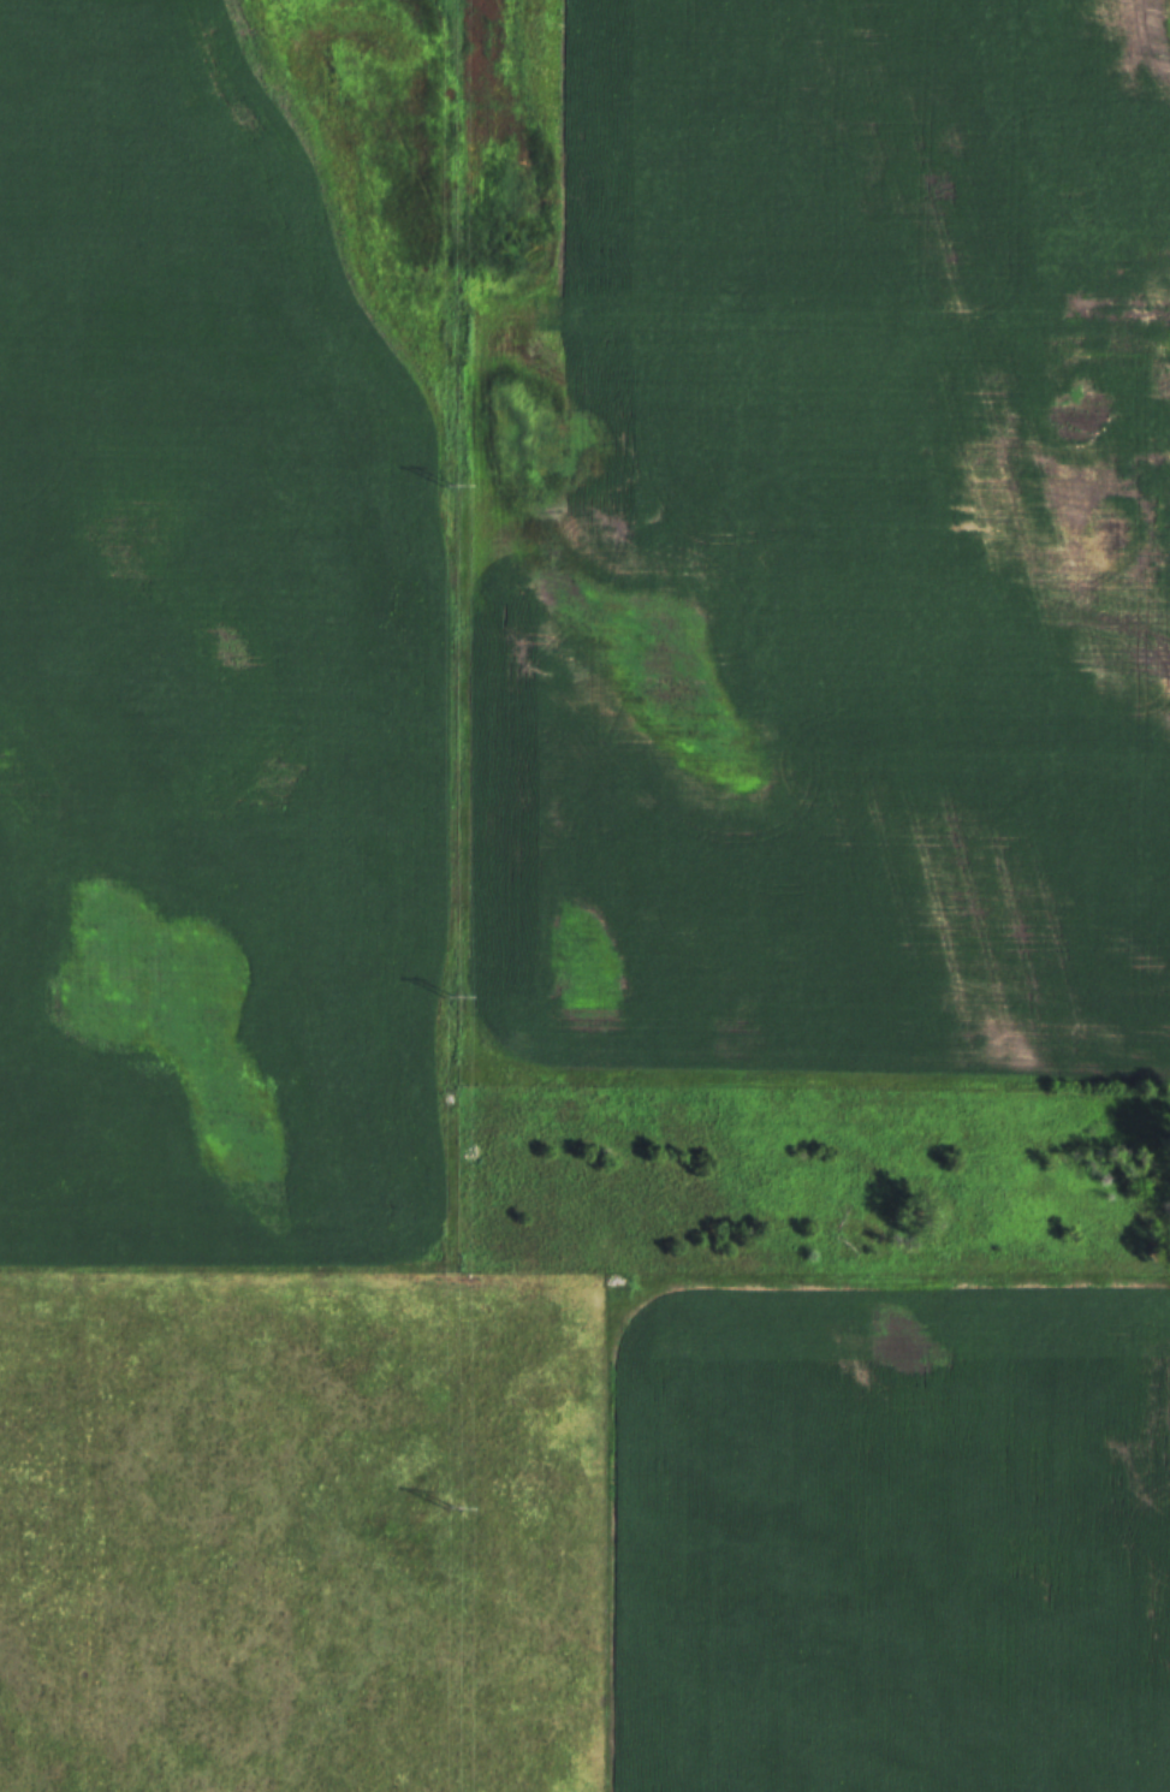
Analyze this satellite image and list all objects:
power tower: (447, 485)
power tower: (449, 996)
power tower: (451, 1508)

